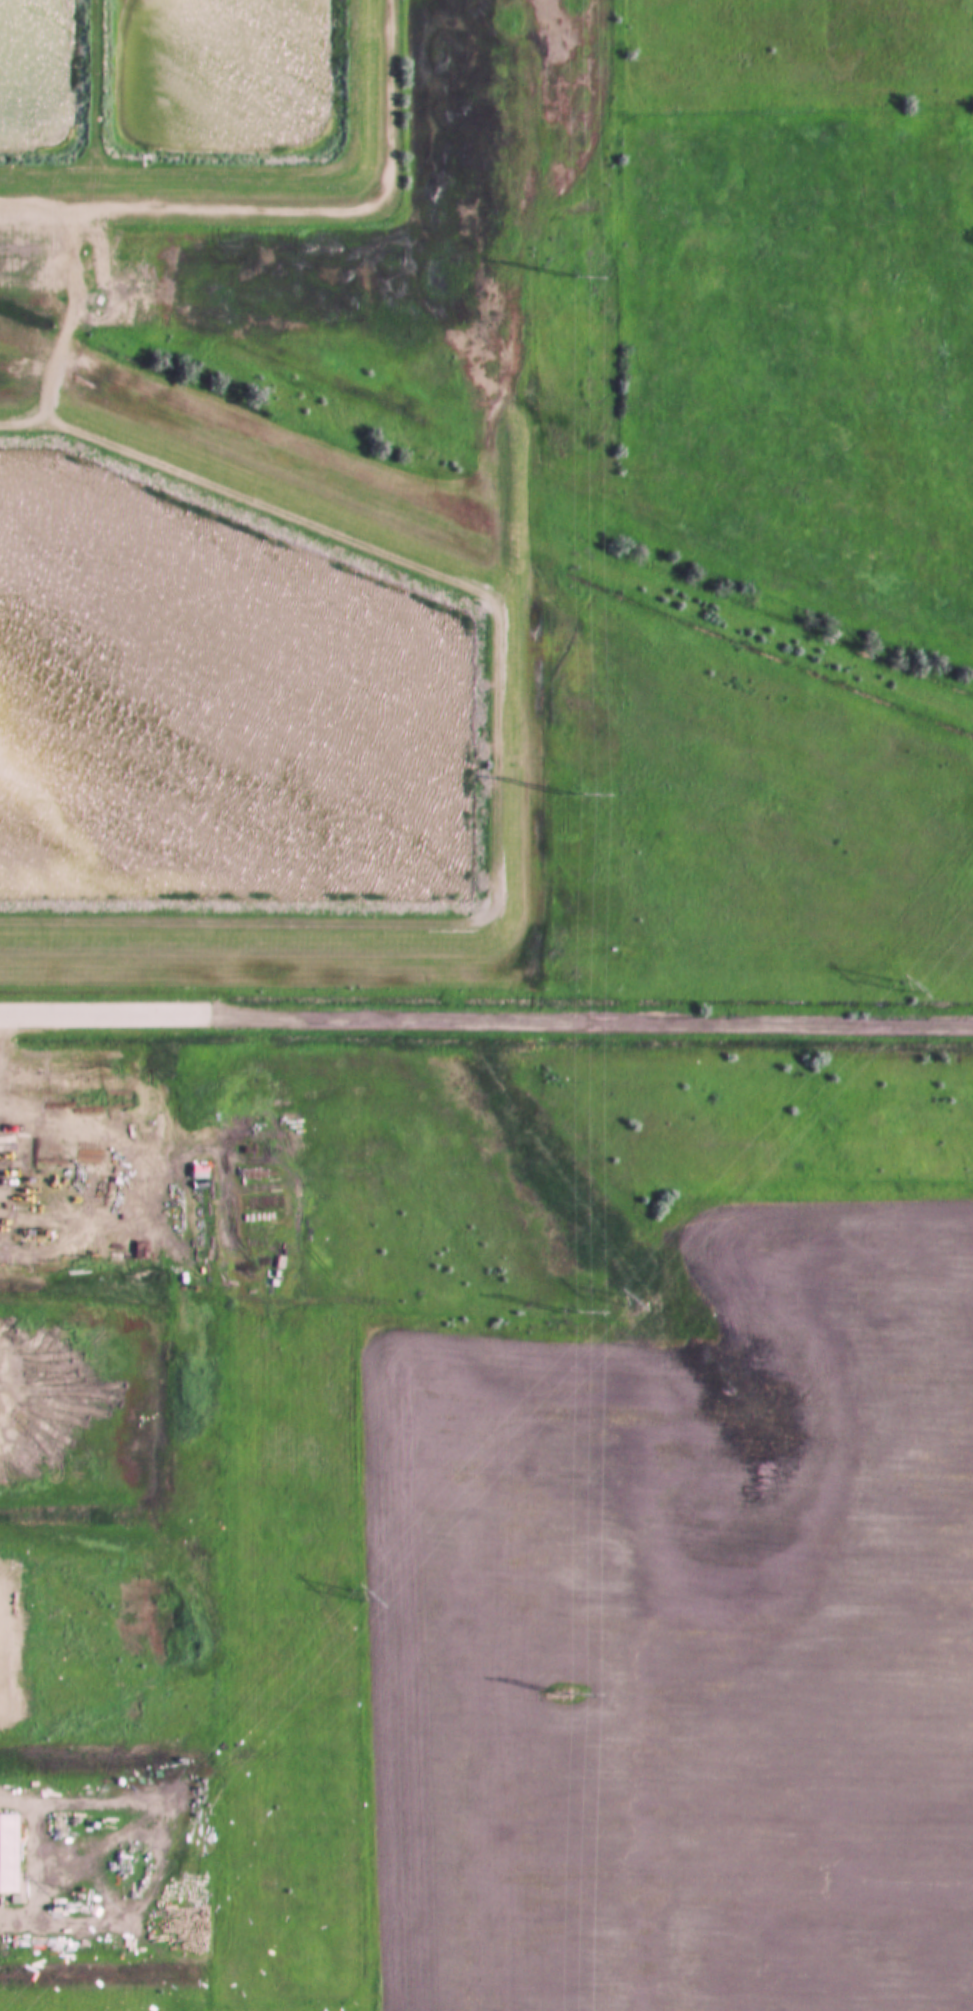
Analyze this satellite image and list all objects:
power tower: (554, 276)
power tower: (549, 795)
power tower: (890, 985)
road: (100, 1015)
road: (587, 1021)
power tower: (617, 1297)
power tower: (551, 1313)
power tower: (354, 1595)
crop: (685, 1632)
power tower: (557, 1697)
building: (4, 1849)
power tower: (84, 1899)

